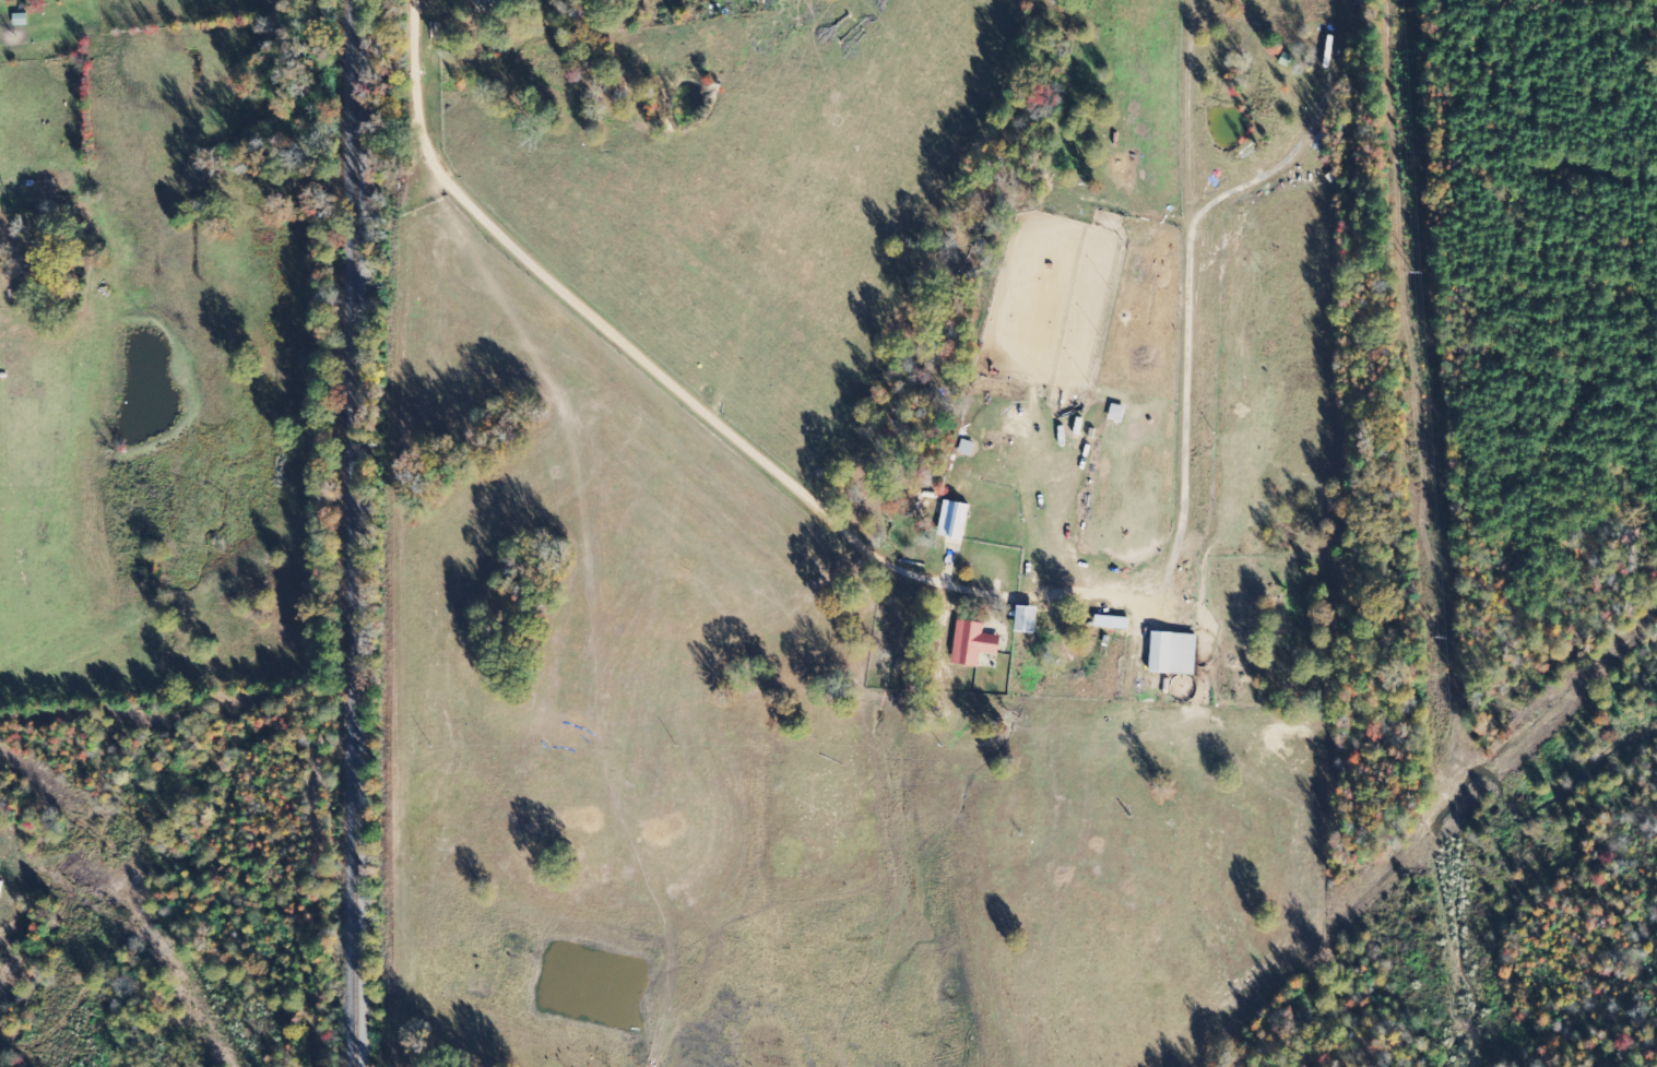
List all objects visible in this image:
road: (583, 27)
power tower: (1415, 273)
building: (950, 520)
railway: (356, 533)
building: (1020, 618)
power tower: (1441, 638)
building: (970, 644)
power tower: (1464, 1003)

